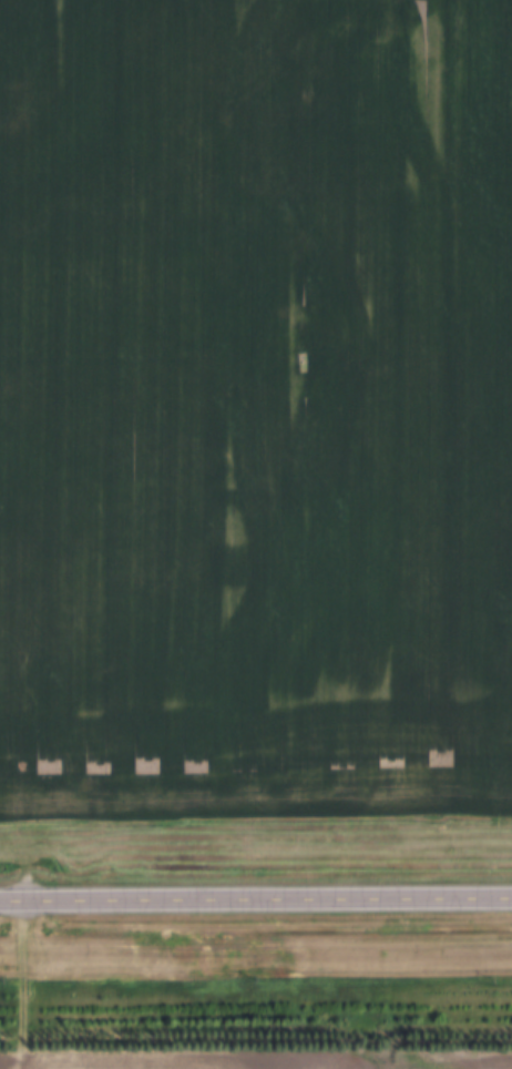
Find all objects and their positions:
road: (256, 897)

